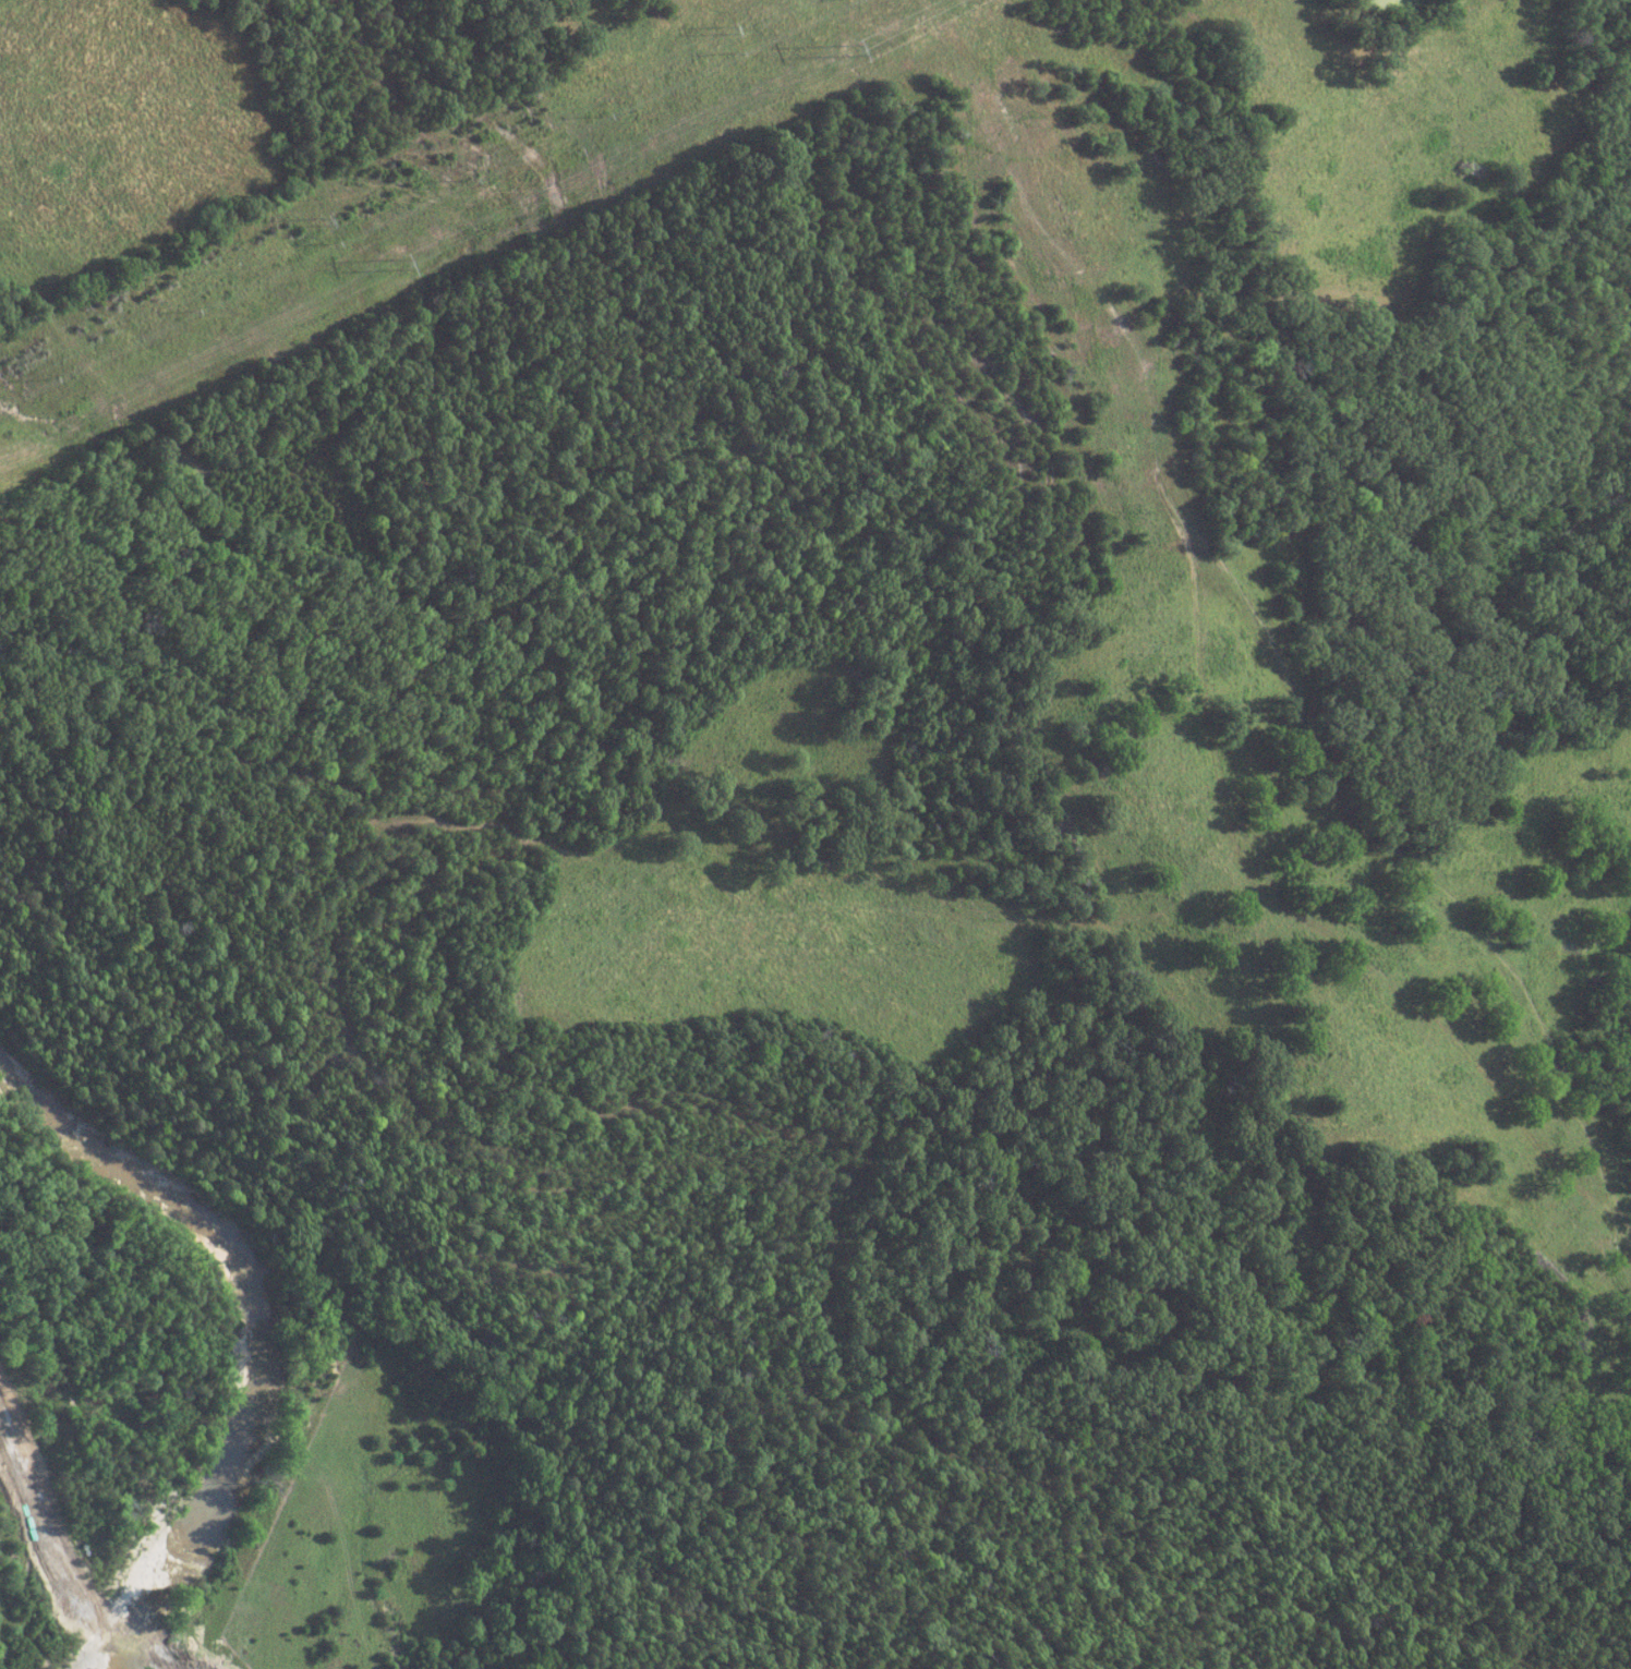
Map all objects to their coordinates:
power tower: (724, 32)
power tower: (848, 53)
power tower: (321, 225)
power tower: (396, 266)

